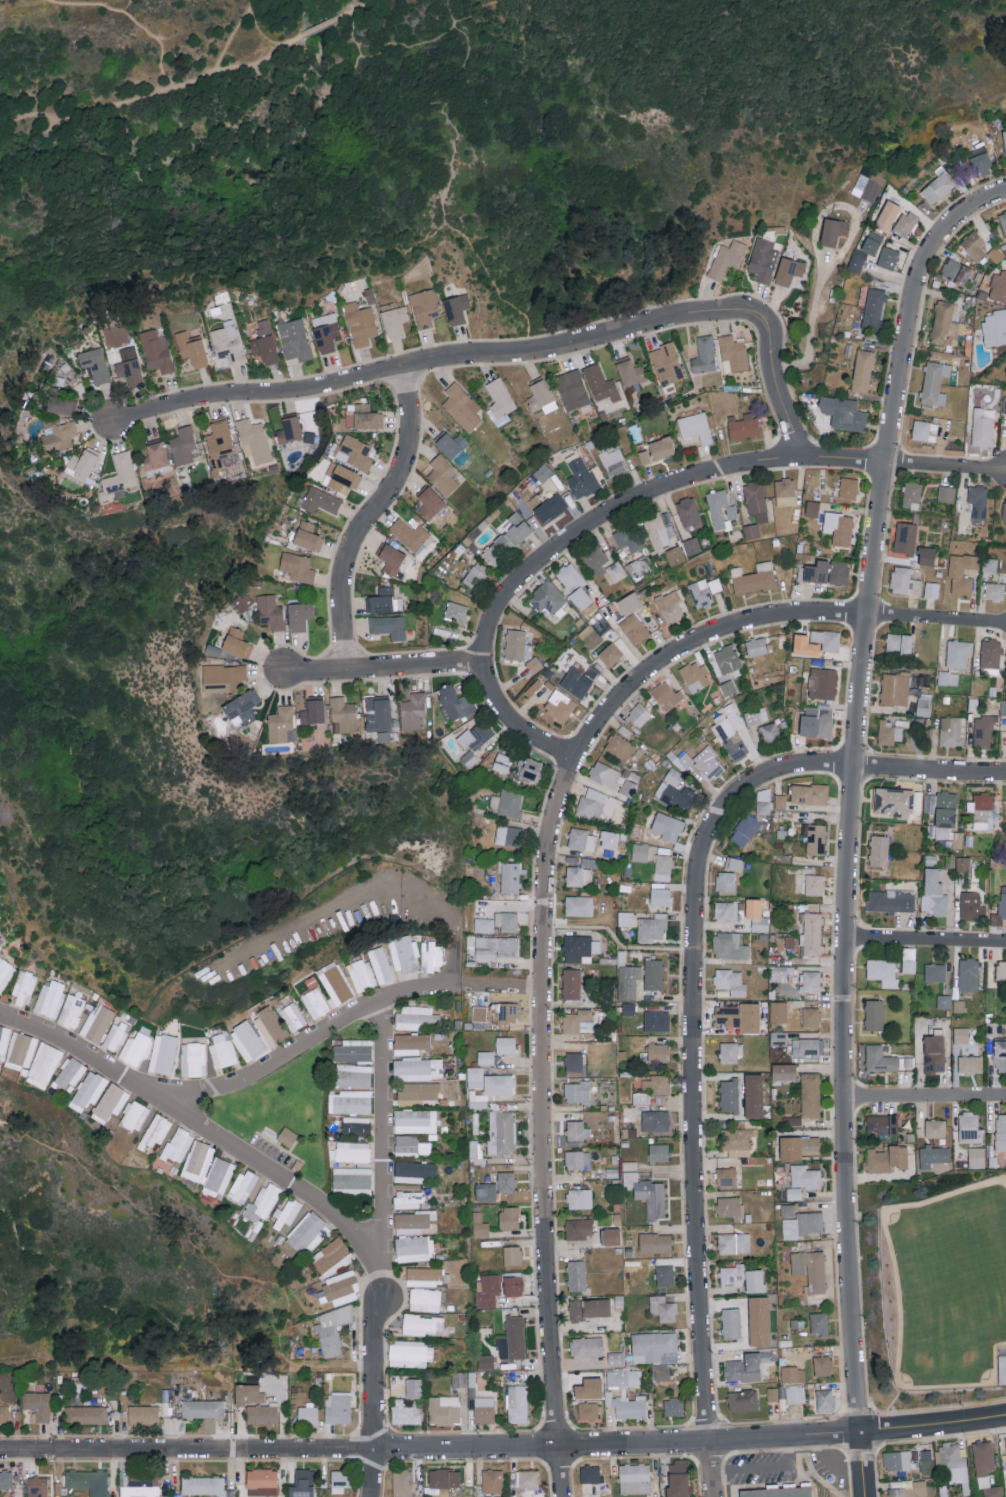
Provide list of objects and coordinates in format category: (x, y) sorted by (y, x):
road: (131, 17)
road: (230, 36)
road: (264, 37)
road: (345, 67)
road: (190, 83)
road: (32, 119)
park: (434, 134)
building: (1004, 140)
building: (980, 159)
building: (936, 187)
building: (887, 215)
building: (1003, 220)
building: (905, 223)
building: (833, 230)
building: (974, 245)
building: (864, 251)
building: (888, 257)
building: (727, 258)
building: (763, 259)
building: (788, 270)
building: (956, 271)
building: (998, 286)
building: (424, 307)
building: (456, 308)
building: (873, 309)
building: (393, 319)
building: (360, 323)
road: (812, 324)
building: (946, 324)
building: (994, 327)
building: (325, 331)
building: (294, 339)
building: (227, 341)
building: (264, 341)
building: (191, 348)
building: (156, 350)
building: (734, 351)
road: (511, 354)
building: (704, 355)
building: (666, 363)
building: (95, 364)
building: (862, 370)
building: (129, 371)
building: (630, 372)
building: (934, 382)
building: (601, 383)
building: (572, 389)
building: (541, 396)
building: (499, 401)
building: (60, 402)
building: (1004, 404)
building: (461, 406)
building: (843, 412)
building: (362, 416)
building: (743, 425)
building: (695, 426)
building: (982, 426)
building: (289, 429)
building: (922, 430)
building: (58, 435)
building: (254, 440)
building: (451, 443)
building: (220, 444)
building: (182, 445)
building: (657, 450)
building: (354, 452)
building: (155, 458)
building: (613, 461)
building: (82, 462)
road: (946, 468)
building: (542, 472)
building: (442, 475)
building: (118, 476)
building: (341, 477)
building: (581, 477)
building: (784, 487)
building: (848, 487)
building: (946, 493)
building: (911, 495)
building: (321, 500)
building: (756, 500)
building: (978, 500)
building: (429, 502)
building: (550, 507)
building: (1004, 507)
building: (812, 508)
building: (721, 509)
building: (688, 511)
road: (372, 518)
building: (839, 528)
road: (585, 530)
building: (659, 531)
building: (409, 533)
building: (308, 536)
building: (905, 537)
building: (507, 539)
building: (627, 539)
building: (691, 545)
building: (675, 555)
building: (926, 556)
building: (391, 558)
building: (603, 563)
building: (989, 564)
building: (297, 566)
building: (827, 571)
building: (961, 573)
building: (475, 574)
building: (753, 578)
building: (904, 581)
building: (573, 584)
building: (714, 584)
building: (931, 589)
building: (994, 590)
building: (700, 593)
building: (242, 600)
building: (383, 600)
building: (629, 603)
building: (669, 604)
building: (270, 611)
building: (455, 612)
building: (299, 615)
road: (937, 620)
building: (388, 626)
building: (634, 628)
building: (589, 636)
building: (236, 642)
building: (899, 643)
building: (515, 644)
building: (804, 645)
building: (756, 646)
building: (958, 652)
building: (610, 654)
building: (727, 658)
road: (385, 668)
building: (695, 676)
building: (223, 677)
building: (948, 677)
building: (578, 680)
building: (822, 683)
building: (894, 688)
building: (665, 694)
building: (454, 703)
building: (560, 705)
building: (242, 706)
building: (1003, 707)
building: (412, 711)
building: (312, 712)
building: (377, 713)
building: (342, 714)
building: (639, 714)
building: (756, 715)
building: (818, 721)
building: (282, 724)
building: (952, 731)
building: (984, 731)
building: (769, 732)
building: (889, 732)
building: (730, 733)
building: (476, 736)
park: (163, 742)
building: (619, 746)
building: (469, 758)
building: (502, 762)
building: (705, 764)
building: (531, 769)
road: (929, 772)
building: (604, 774)
building: (674, 777)
road: (853, 787)
building: (809, 794)
building: (676, 795)
building: (763, 801)
building: (780, 801)
building: (506, 802)
building: (591, 803)
building: (941, 811)
building: (666, 828)
building: (745, 830)
building: (507, 835)
building: (581, 839)
building: (815, 839)
building: (609, 840)
building: (879, 850)
building: (639, 852)
building: (590, 862)
building: (733, 864)
building: (963, 864)
building: (662, 867)
building: (512, 876)
building: (579, 876)
building: (725, 882)
building: (814, 884)
building: (933, 893)
building: (660, 895)
building: (890, 900)
building: (579, 905)
building: (971, 905)
building: (1000, 908)
building: (725, 911)
building: (0, 917)
building: (625, 918)
building: (507, 921)
building: (484, 925)
building: (652, 927)
building: (811, 933)
road: (926, 942)
building: (1, 943)
road: (620, 944)
building: (729, 946)
building: (496, 947)
road: (544, 952)
building: (403, 953)
building: (431, 958)
building: (908, 960)
building: (1001, 970)
building: (883, 971)
building: (5, 972)
building: (781, 972)
building: (934, 972)
building: (653, 974)
building: (362, 975)
building: (968, 975)
building: (810, 980)
building: (628, 981)
road: (442, 982)
building: (730, 982)
building: (334, 983)
road: (496, 983)
building: (571, 983)
building: (24, 987)
building: (49, 998)
building: (944, 1001)
building: (315, 1003)
building: (628, 1008)
building: (71, 1011)
building: (506, 1012)
building: (778, 1012)
building: (479, 1013)
building: (874, 1015)
building: (727, 1016)
building: (292, 1017)
building: (418, 1017)
building: (811, 1017)
building: (578, 1021)
building: (657, 1021)
building: (97, 1023)
building: (272, 1024)
building: (115, 1034)
building: (961, 1035)
building: (3, 1039)
building: (247, 1040)
building: (411, 1043)
building: (505, 1045)
building: (807, 1046)
building: (135, 1048)
building: (21, 1049)
building: (353, 1050)
building: (222, 1051)
building: (657, 1052)
building: (730, 1052)
road: (78, 1053)
building: (163, 1054)
building: (934, 1054)
building: (1000, 1056)
building: (485, 1057)
building: (192, 1058)
building: (581, 1058)
building: (879, 1059)
building: (970, 1064)
building: (43, 1065)
building: (417, 1068)
building: (783, 1071)
building: (68, 1074)
building: (353, 1075)
building: (475, 1077)
road: (693, 1079)
building: (655, 1084)
building: (492, 1089)
building: (88, 1090)
building: (417, 1092)
building: (577, 1092)
road: (924, 1093)
building: (810, 1094)
building: (729, 1095)
building: (753, 1096)
building: (641, 1098)
building: (350, 1101)
building: (110, 1102)
building: (133, 1116)
building: (655, 1120)
building: (415, 1121)
building: (882, 1124)
building: (356, 1125)
building: (935, 1128)
building: (970, 1128)
building: (577, 1130)
building: (156, 1131)
building: (501, 1132)
building: (1001, 1132)
building: (287, 1136)
building: (737, 1141)
building: (410, 1144)
building: (177, 1145)
building: (798, 1147)
road: (383, 1148)
building: (352, 1151)
building: (658, 1152)
building: (976, 1157)
building: (577, 1159)
building: (886, 1159)
building: (197, 1160)
building: (413, 1171)
building: (219, 1175)
building: (725, 1176)
building: (805, 1177)
building: (352, 1180)
building: (502, 1182)
building: (243, 1185)
building: (794, 1193)
building: (647, 1194)
building: (579, 1198)
building: (408, 1199)
building: (728, 1208)
building: (286, 1214)
building: (509, 1218)
building: (801, 1222)
building: (479, 1225)
road: (348, 1226)
building: (578, 1228)
building: (307, 1233)
building: (611, 1237)
building: (655, 1242)
building: (734, 1243)
building: (414, 1248)
building: (512, 1255)
building: (331, 1257)
park: (114, 1259)
building: (810, 1270)
building: (576, 1275)
building: (664, 1275)
building: (732, 1275)
building: (424, 1276)
building: (754, 1281)
building: (341, 1288)
building: (487, 1289)
building: (425, 1300)
building: (663, 1308)
building: (589, 1309)
building: (759, 1322)
building: (731, 1323)
building: (819, 1323)
building: (421, 1324)
building: (332, 1329)
building: (512, 1339)
building: (586, 1346)
building: (654, 1347)
building: (410, 1354)
building: (615, 1358)
building: (485, 1362)
building: (822, 1366)
building: (743, 1368)
building: (1002, 1370)
building: (661, 1372)
building: (793, 1374)
building: (463, 1378)
building: (623, 1378)
building: (414, 1388)
building: (588, 1389)
building: (772, 1394)
building: (248, 1395)
building: (794, 1395)
building: (743, 1400)
building: (825, 1400)
building: (517, 1404)
building: (782, 1404)
building: (627, 1406)
building: (673, 1407)
building: (337, 1408)
building: (202, 1409)
building: (444, 1410)
building: (484, 1410)
building: (589, 1411)
building: (4, 1413)
building: (405, 1413)
building: (86, 1415)
building: (143, 1415)
building: (261, 1415)
building: (307, 1415)
road: (932, 1422)
building: (1005, 1440)
road: (429, 1447)
building: (897, 1459)
building: (926, 1461)
road: (861, 1462)
road: (831, 1463)
building: (952, 1463)
building: (985, 1468)
road: (766, 1469)
parking lot: (759, 1470)
road: (372, 1473)
building: (589, 1473)
building: (10, 1477)
building: (444, 1477)
building: (634, 1477)
building: (526, 1478)
building: (678, 1478)
building: (340, 1479)
building: (262, 1480)
building: (492, 1480)
building: (89, 1481)
building: (402, 1481)
building: (138, 1483)
building: (301, 1483)
building: (205, 1485)
building: (37, 1486)
building: (909, 1489)
building: (779, 1492)

